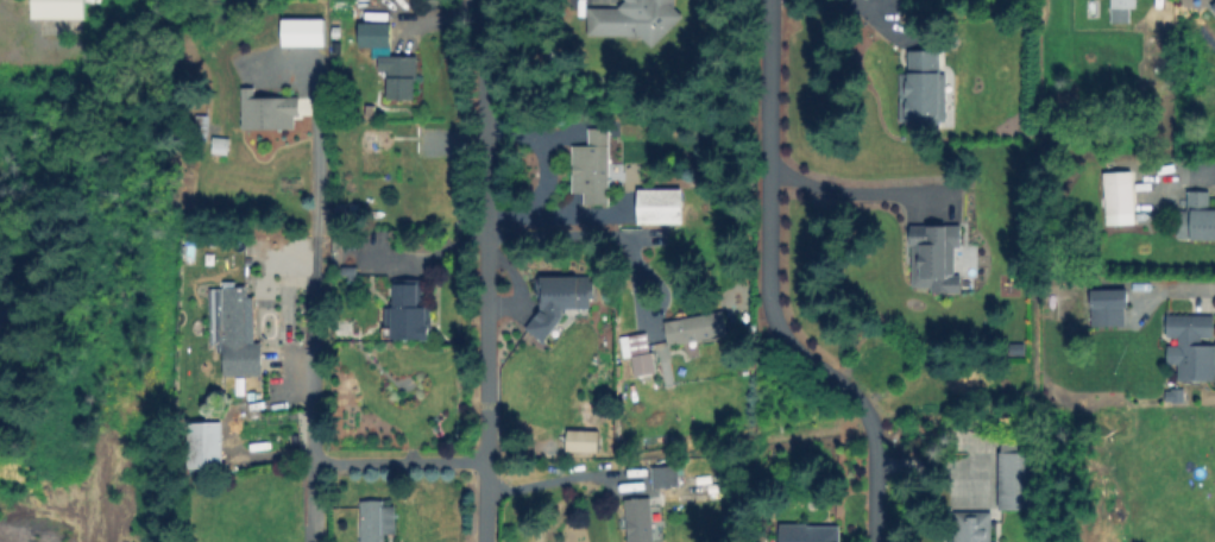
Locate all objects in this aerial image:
building: (1214, 6)
building: (63, 8)
building: (1122, 11)
building: (637, 20)
road: (871, 20)
building: (300, 33)
building: (386, 62)
building: (924, 92)
building: (270, 112)
building: (200, 130)
building: (221, 145)
road: (317, 155)
building: (372, 156)
building: (594, 168)
road: (842, 194)
building: (1120, 195)
building: (661, 207)
building: (1197, 219)
road: (580, 234)
building: (936, 256)
road: (485, 270)
road: (767, 290)
road: (1185, 290)
building: (556, 302)
building: (1110, 308)
building: (1, 311)
building: (408, 311)
building: (232, 319)
building: (697, 329)
building: (1194, 347)
building: (641, 355)
road: (319, 357)
building: (583, 441)
building: (207, 445)
road: (401, 460)
road: (940, 466)
building: (667, 477)
road: (555, 479)
building: (1018, 479)
road: (316, 500)
building: (378, 521)
building: (640, 521)
building: (974, 528)
building: (810, 531)

